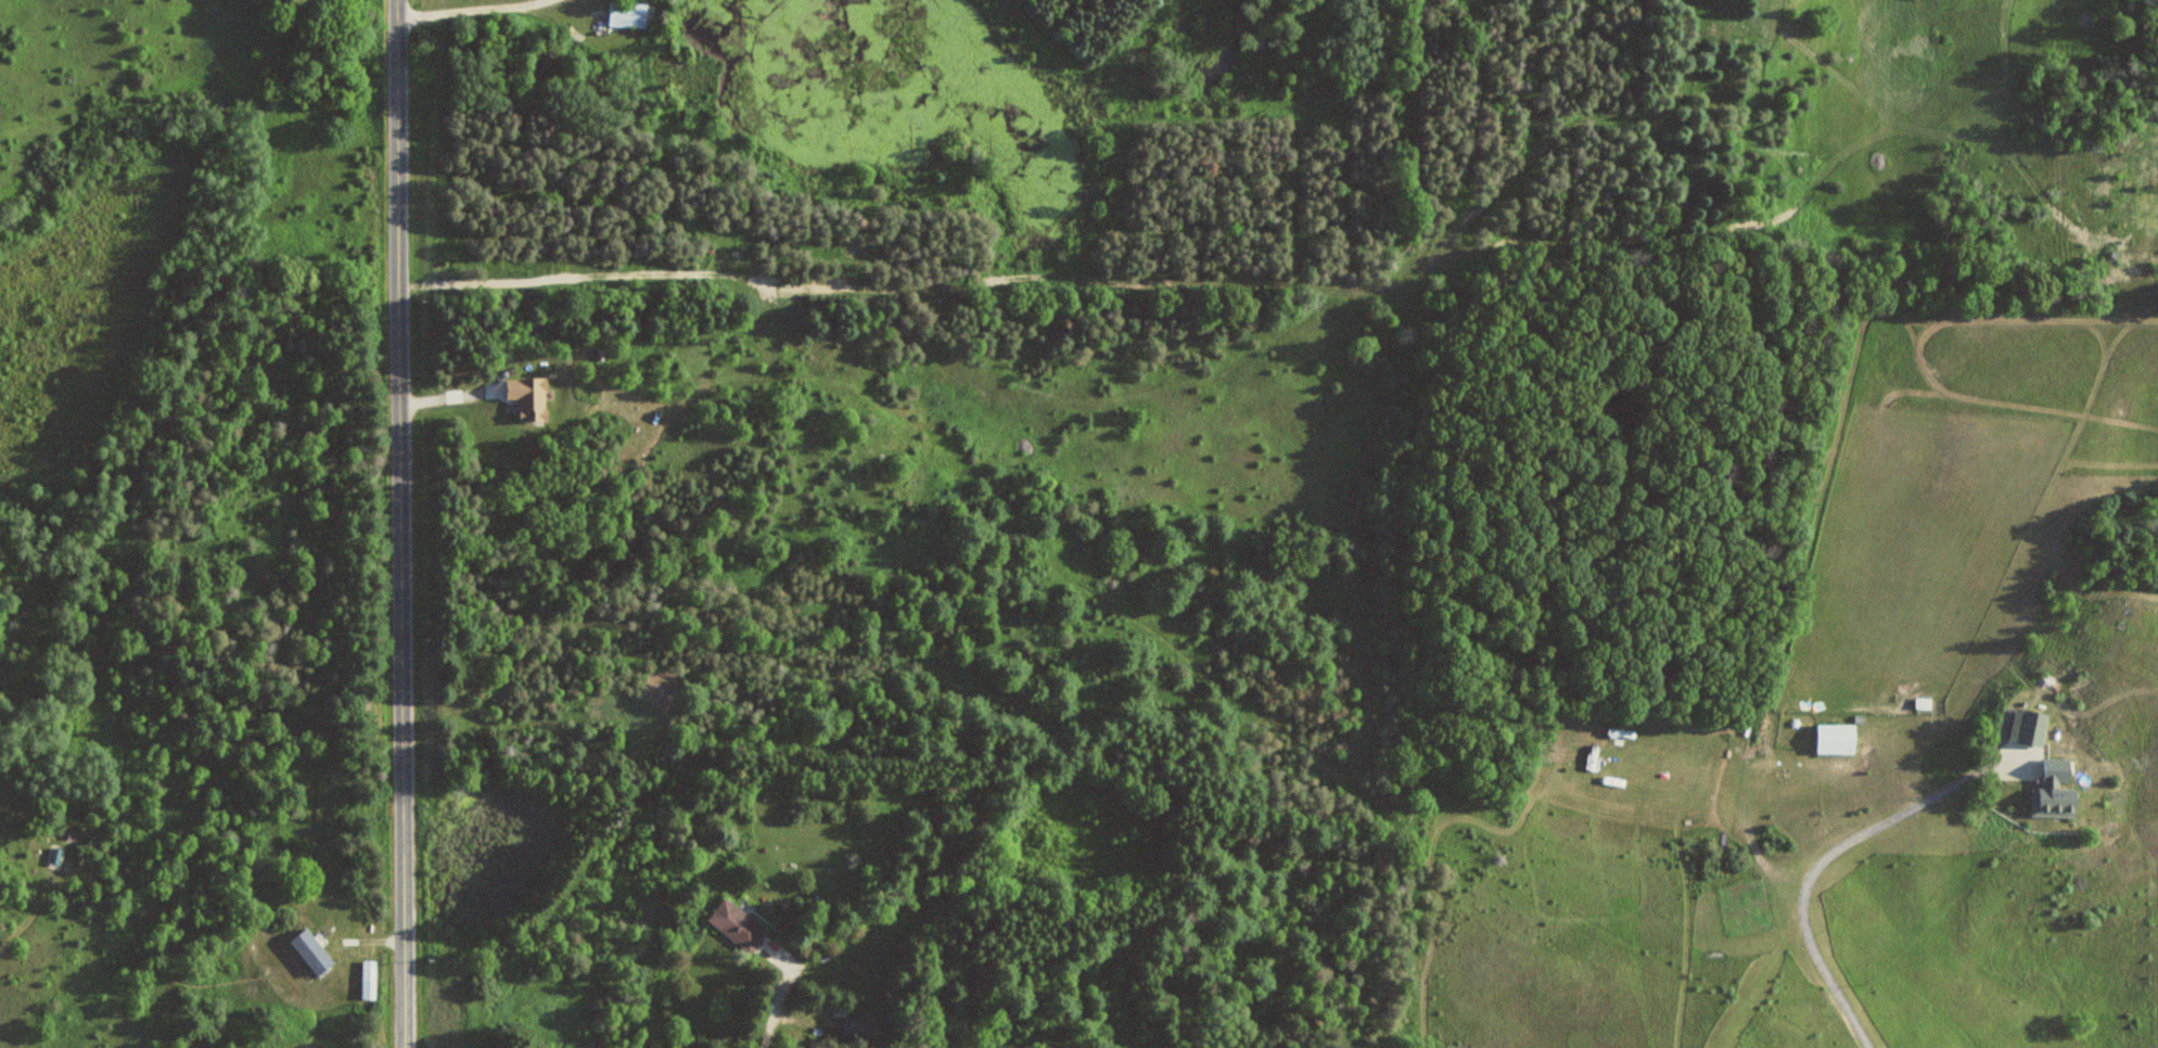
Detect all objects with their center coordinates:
building: (628, 13)
building: (531, 395)
road: (403, 523)
building: (2030, 726)
building: (1838, 738)
building: (2056, 790)
road: (1834, 852)
building: (739, 925)
road: (775, 951)
building: (314, 953)
building: (370, 980)
road: (776, 1004)
building: (857, 1027)

